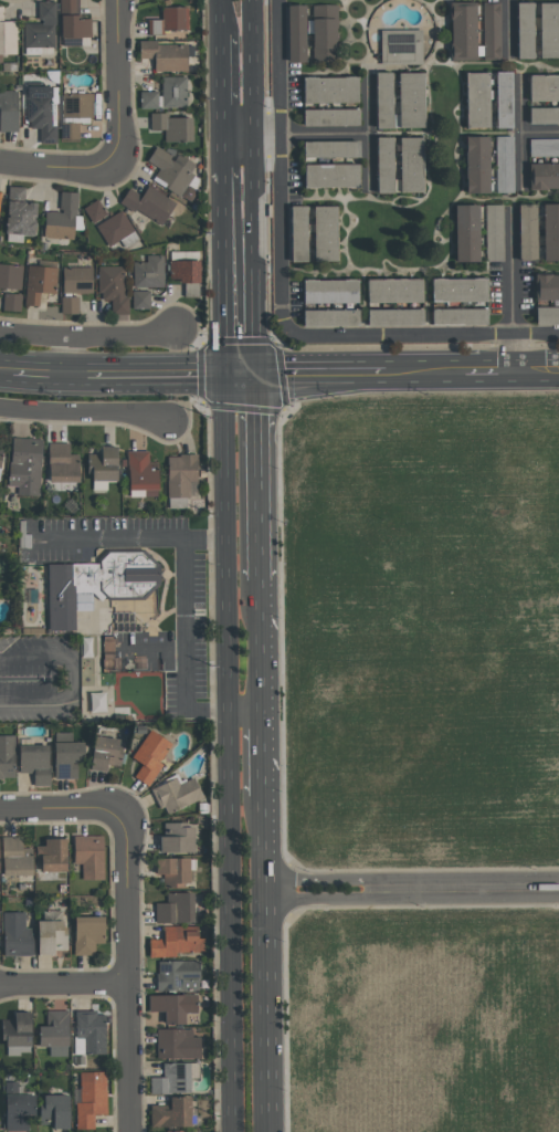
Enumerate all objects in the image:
road: (221, 14)
building: (168, 20)
building: (73, 24)
road: (509, 25)
building: (41, 27)
building: (524, 30)
building: (548, 30)
building: (474, 32)
building: (296, 33)
building: (324, 33)
building: (7, 35)
building: (400, 46)
building: (38, 51)
building: (165, 55)
road: (114, 81)
road: (223, 83)
building: (544, 87)
building: (329, 90)
building: (172, 92)
building: (148, 99)
building: (383, 99)
building: (504, 99)
building: (410, 101)
building: (8, 111)
building: (41, 113)
building: (74, 114)
building: (544, 115)
building: (330, 117)
building: (171, 126)
road: (369, 134)
road: (540, 135)
road: (296, 136)
road: (521, 136)
building: (544, 146)
building: (330, 149)
road: (224, 151)
building: (476, 164)
building: (504, 164)
building: (384, 165)
building: (410, 165)
road: (59, 168)
building: (173, 172)
building: (331, 176)
building: (544, 176)
road: (254, 186)
building: (1, 200)
building: (148, 203)
building: (94, 211)
building: (19, 212)
building: (61, 218)
building: (550, 231)
building: (325, 232)
building: (466, 232)
building: (494, 232)
building: (527, 232)
building: (297, 233)
road: (225, 269)
building: (183, 271)
building: (148, 272)
building: (10, 276)
building: (76, 280)
building: (39, 283)
building: (546, 286)
building: (113, 287)
road: (509, 289)
building: (458, 290)
building: (330, 291)
building: (394, 291)
building: (140, 300)
building: (11, 302)
building: (68, 304)
road: (284, 304)
building: (547, 315)
building: (394, 316)
building: (458, 316)
building: (330, 317)
road: (88, 334)
road: (64, 352)
road: (7, 365)
road: (39, 367)
road: (488, 368)
road: (535, 368)
road: (75, 369)
road: (425, 369)
road: (157, 371)
road: (320, 371)
traffic signals: (226, 373)
road: (241, 373)
traffic signals: (255, 373)
road: (84, 411)
building: (1, 462)
building: (62, 463)
building: (24, 465)
building: (103, 468)
building: (141, 474)
building: (180, 474)
road: (256, 475)
road: (137, 539)
road: (229, 543)
building: (94, 581)
road: (259, 646)
building: (86, 647)
road: (184, 648)
road: (70, 677)
building: (97, 701)
road: (244, 714)
building: (99, 753)
road: (260, 754)
building: (4, 756)
building: (146, 757)
building: (63, 758)
building: (31, 762)
building: (172, 793)
road: (59, 808)
building: (171, 838)
building: (46, 856)
building: (84, 857)
building: (12, 858)
building: (171, 871)
road: (410, 893)
building: (171, 909)
road: (232, 923)
building: (46, 933)
building: (83, 934)
building: (12, 935)
building: (172, 942)
road: (262, 963)
road: (127, 973)
building: (175, 976)
road: (64, 984)
building: (169, 1007)
building: (20, 1029)
building: (91, 1031)
building: (59, 1033)
building: (173, 1044)
building: (171, 1078)
building: (93, 1099)
building: (20, 1108)
building: (59, 1111)
building: (166, 1113)
building: (172, 1131)

